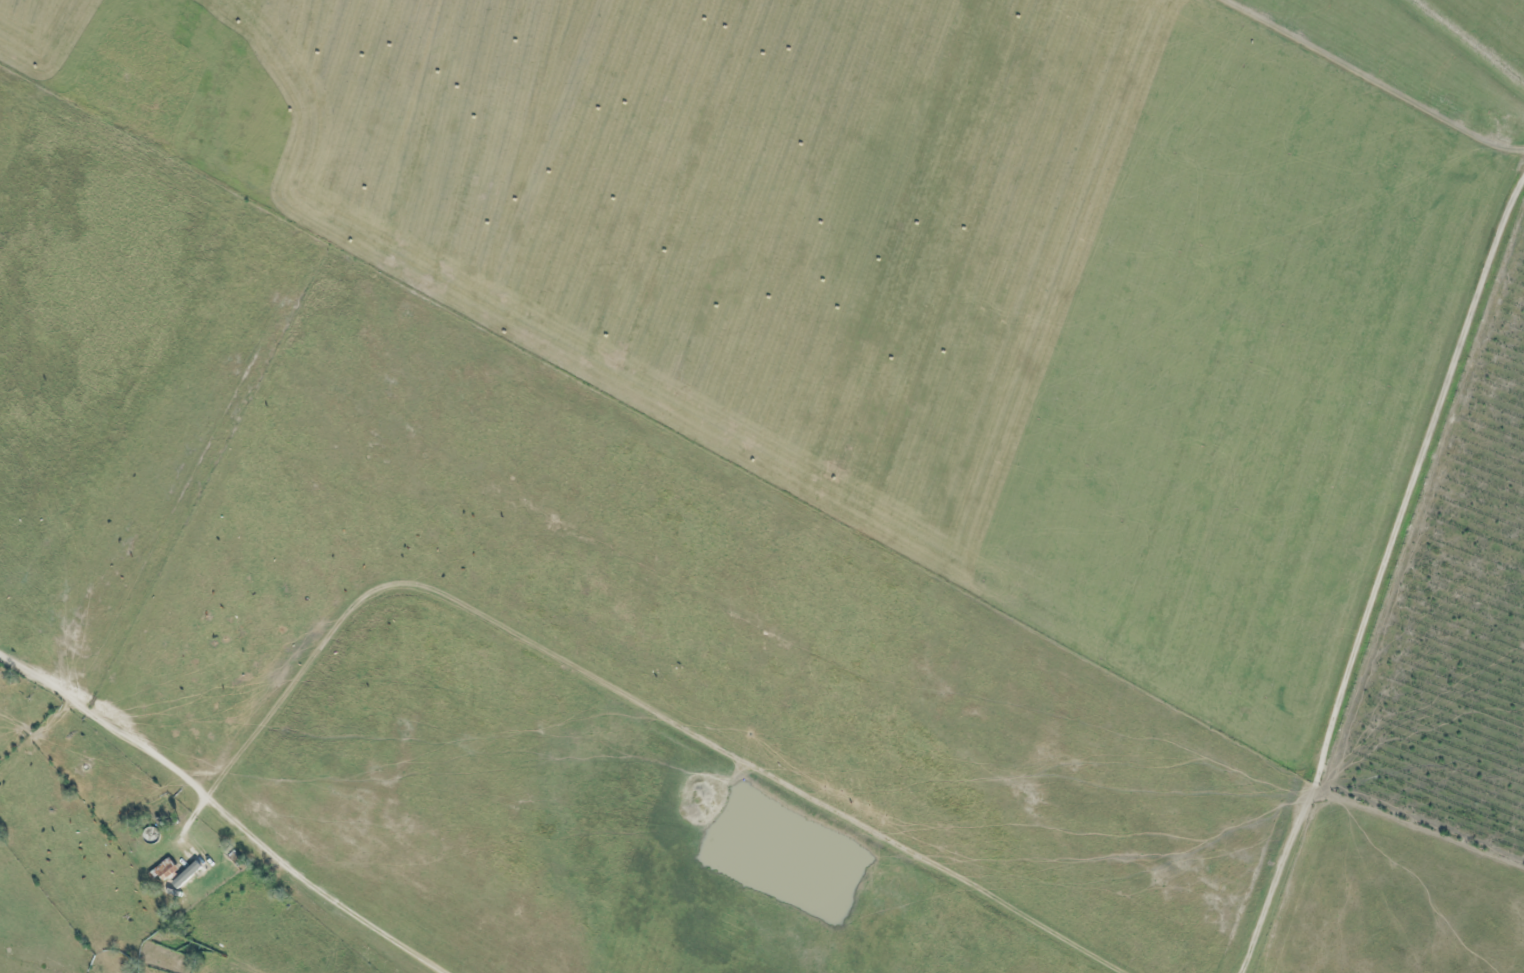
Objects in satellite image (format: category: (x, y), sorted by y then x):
building: (165, 872)
building: (185, 878)

